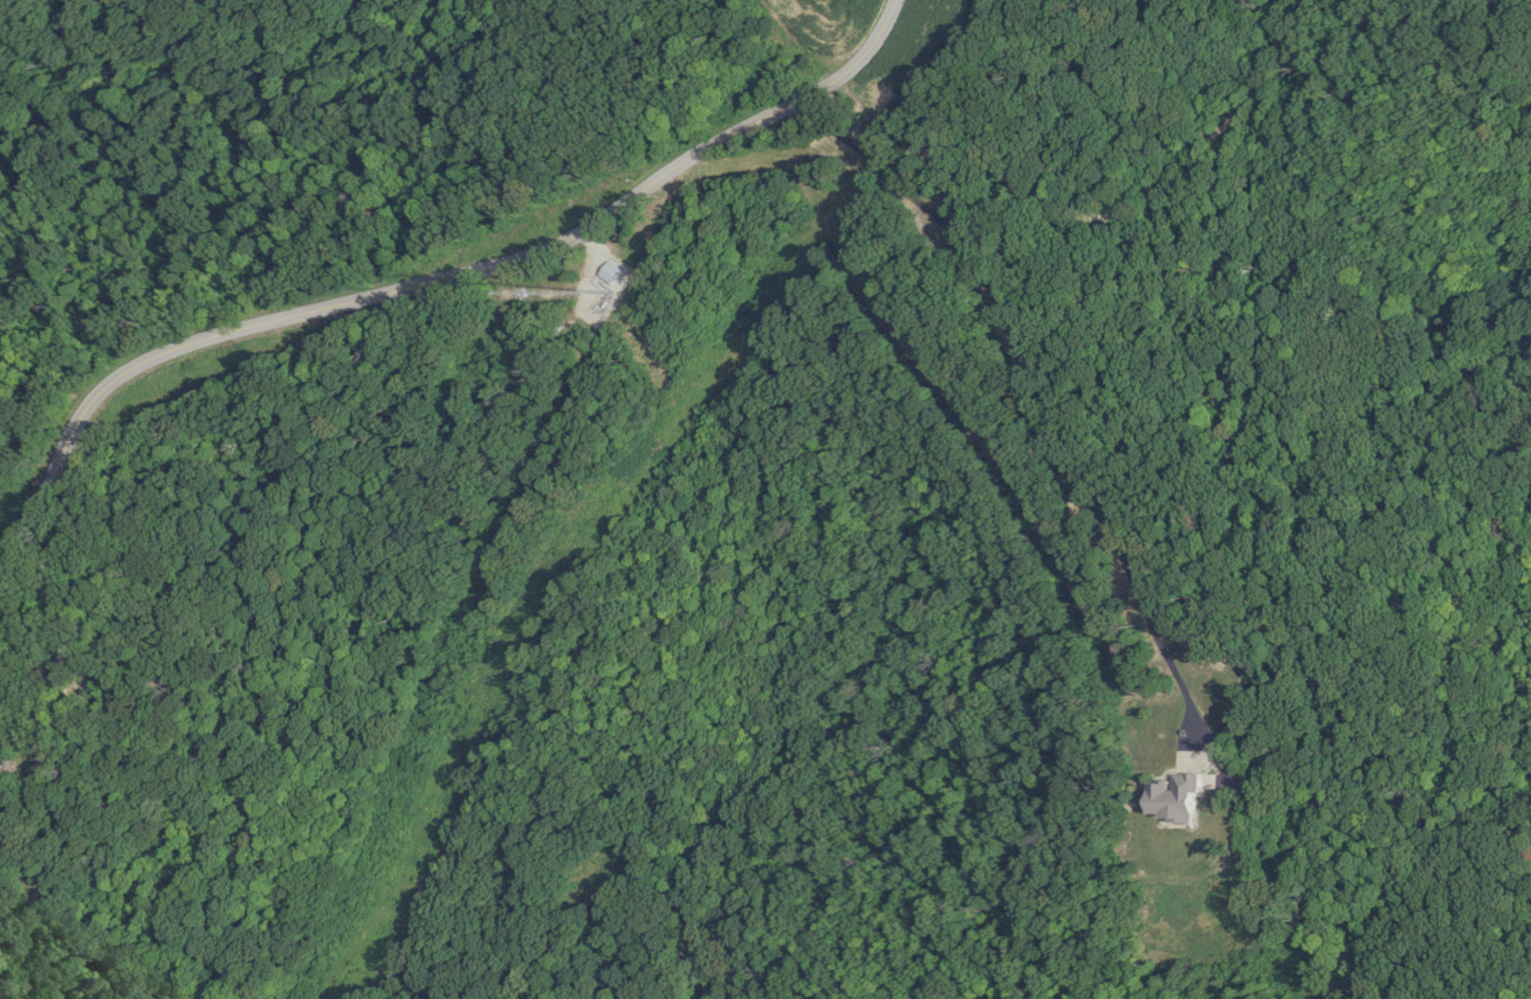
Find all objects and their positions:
building: (614, 272)
road: (429, 279)
road: (1031, 387)
road: (64, 621)
building: (4, 728)
building: (1173, 798)

